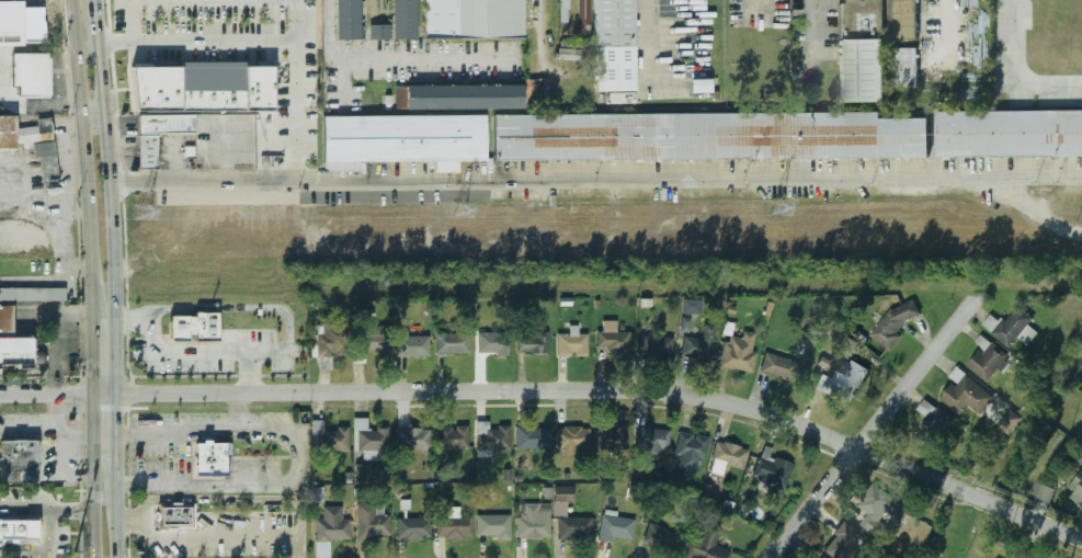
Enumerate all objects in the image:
parking lot: (5, 0)
road: (158, 0)
road: (95, 14)
building: (583, 14)
building: (861, 16)
building: (472, 18)
building: (342, 20)
building: (903, 20)
building: (9, 22)
building: (39, 22)
road: (818, 22)
building: (396, 23)
road: (645, 35)
road: (945, 36)
building: (613, 45)
road: (221, 46)
road: (392, 58)
parking lot: (406, 67)
building: (907, 67)
road: (59, 69)
building: (862, 71)
building: (29, 72)
road: (1018, 78)
building: (203, 82)
building: (460, 95)
road: (39, 101)
road: (91, 113)
road: (299, 113)
building: (164, 123)
road: (81, 128)
building: (7, 130)
building: (1010, 132)
building: (405, 135)
building: (706, 136)
building: (41, 148)
building: (147, 151)
road: (595, 178)
power tower: (776, 209)
road: (111, 210)
power tower: (460, 212)
power tower: (143, 213)
building: (32, 293)
road: (238, 306)
building: (692, 306)
building: (895, 323)
road: (90, 324)
building: (685, 324)
building: (193, 326)
building: (1012, 327)
building: (11, 334)
building: (612, 338)
building: (330, 339)
road: (62, 340)
building: (373, 340)
building: (572, 342)
building: (453, 343)
building: (493, 343)
building: (412, 344)
building: (533, 344)
building: (654, 344)
building: (699, 344)
road: (183, 351)
building: (740, 352)
parking lot: (212, 354)
building: (15, 360)
building: (989, 361)
flagpole: (70, 365)
building: (778, 366)
flagpole: (66, 371)
road: (249, 371)
building: (845, 383)
road: (624, 391)
road: (103, 394)
building: (966, 394)
road: (34, 395)
road: (56, 409)
road: (239, 410)
building: (934, 421)
building: (1010, 421)
road: (27, 423)
road: (870, 428)
road: (71, 433)
road: (274, 435)
building: (453, 436)
building: (529, 436)
road: (114, 437)
building: (492, 437)
building: (613, 437)
building: (368, 439)
building: (412, 439)
building: (329, 440)
building: (572, 440)
parking lot: (164, 441)
building: (654, 444)
building: (692, 449)
building: (728, 456)
building: (209, 458)
road: (300, 458)
building: (18, 460)
road: (61, 467)
building: (777, 470)
building: (361, 471)
road: (91, 475)
building: (1077, 489)
building: (1046, 492)
parking lot: (23, 496)
road: (228, 498)
flagpole: (70, 499)
building: (882, 504)
road: (26, 509)
road: (72, 510)
building: (175, 515)
building: (569, 517)
road: (115, 520)
building: (534, 521)
building: (374, 524)
building: (493, 525)
building: (454, 526)
building: (616, 526)
building: (413, 528)
building: (19, 529)
building: (330, 529)
road: (47, 533)
road: (210, 535)
parking lot: (232, 536)
building: (662, 537)
parking lot: (64, 540)
building: (843, 542)
road: (23, 547)
building: (706, 547)
building: (1025, 553)
road: (23, 555)
building: (822, 557)

